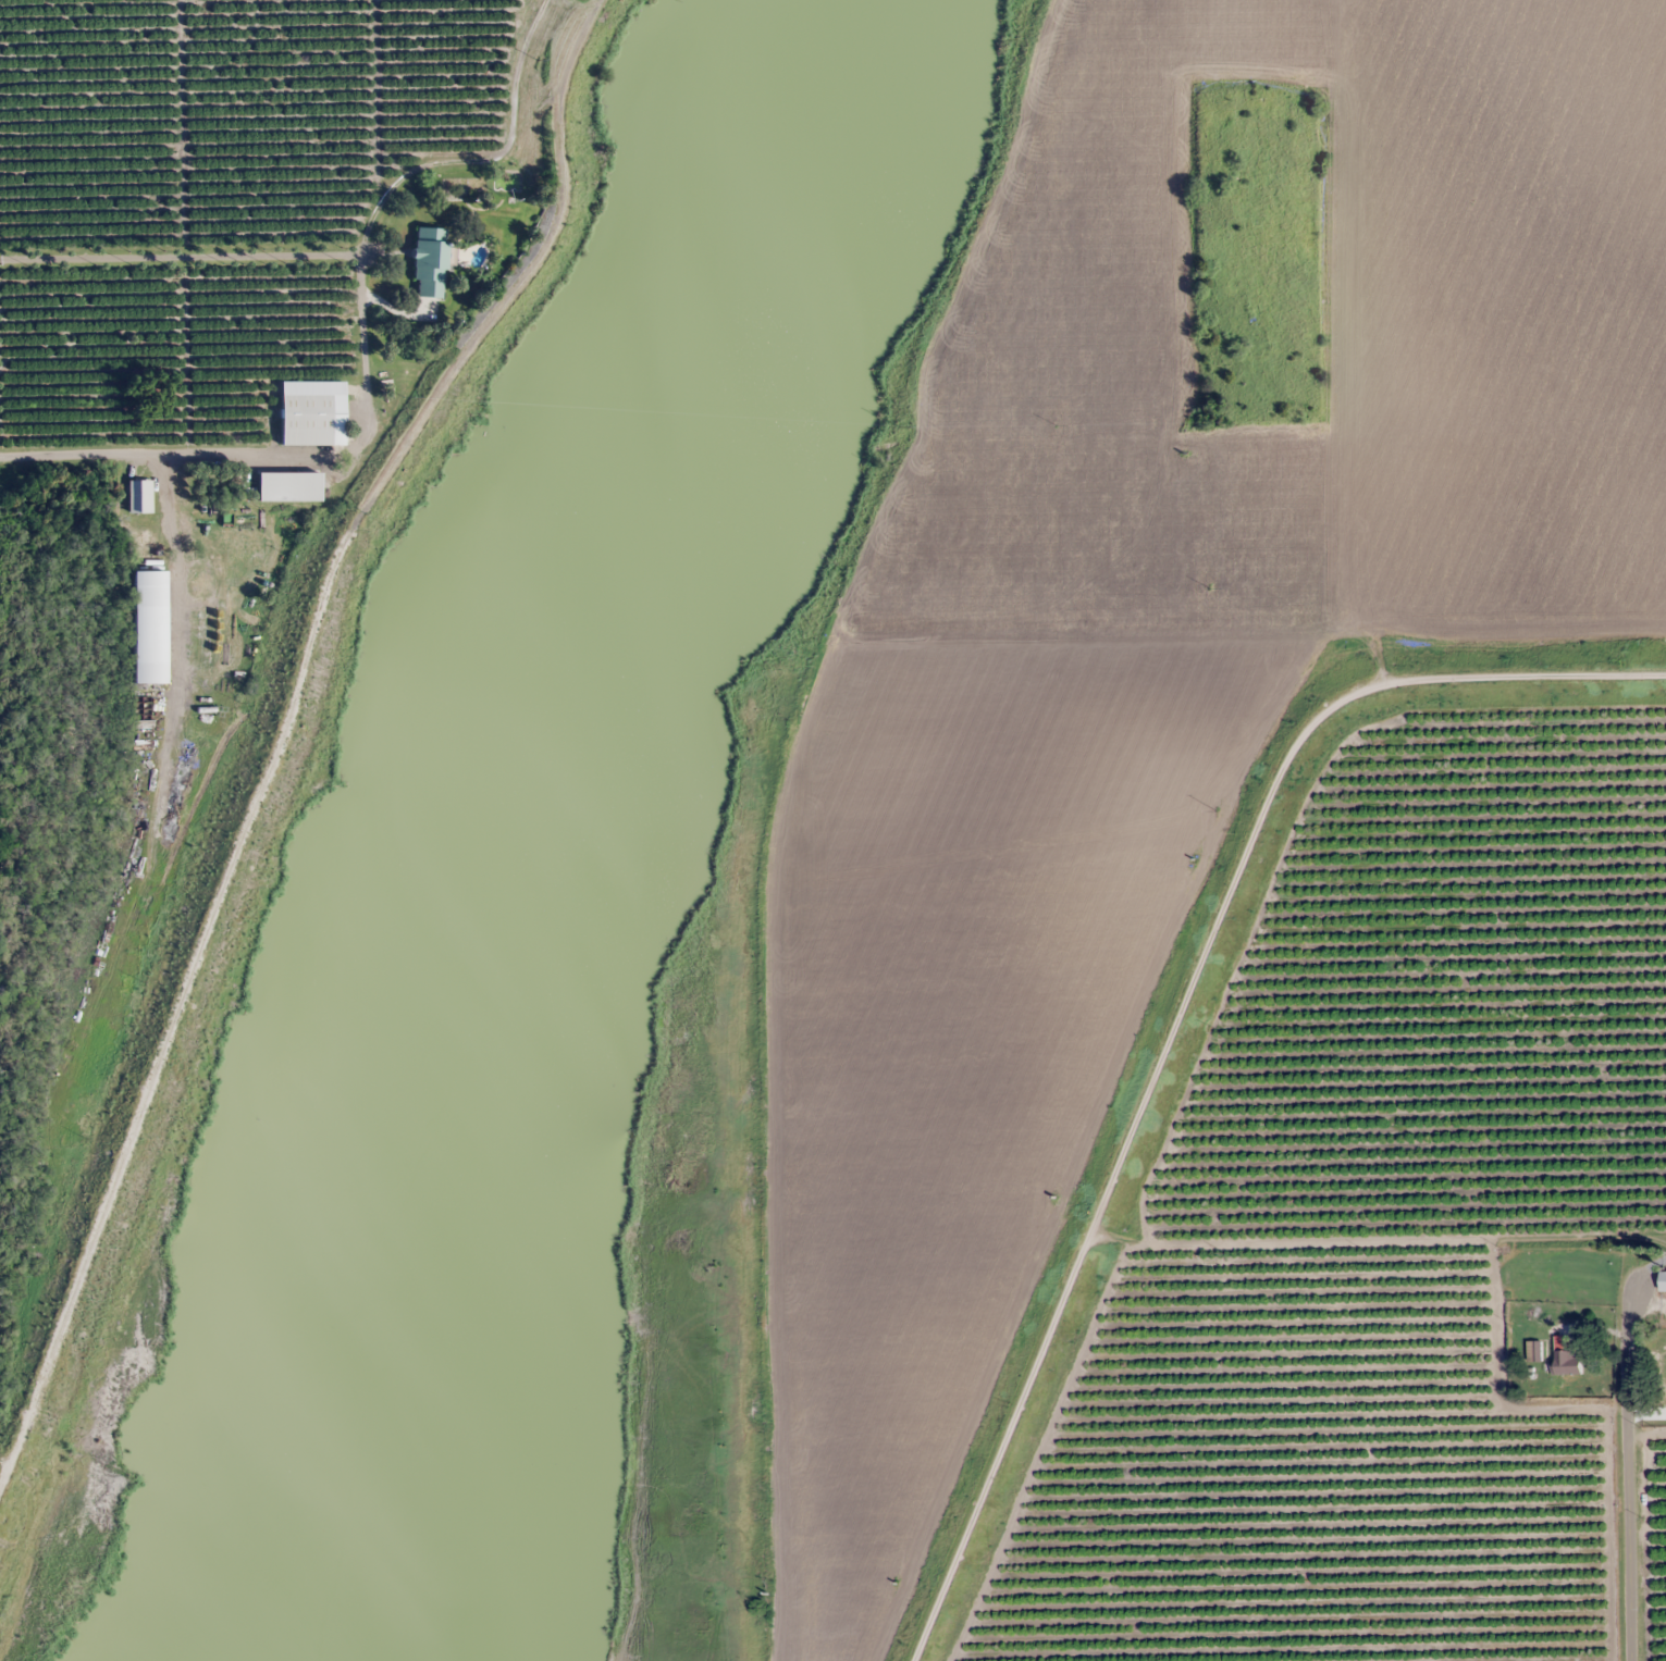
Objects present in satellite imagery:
road: (1289, 203)
road: (235, 226)
building: (427, 262)
road: (1426, 407)
building: (311, 420)
road: (182, 430)
building: (287, 487)
road: (1652, 623)
road: (281, 733)
road: (830, 792)
building: (1662, 1281)
building: (1568, 1362)
building: (1663, 1368)

